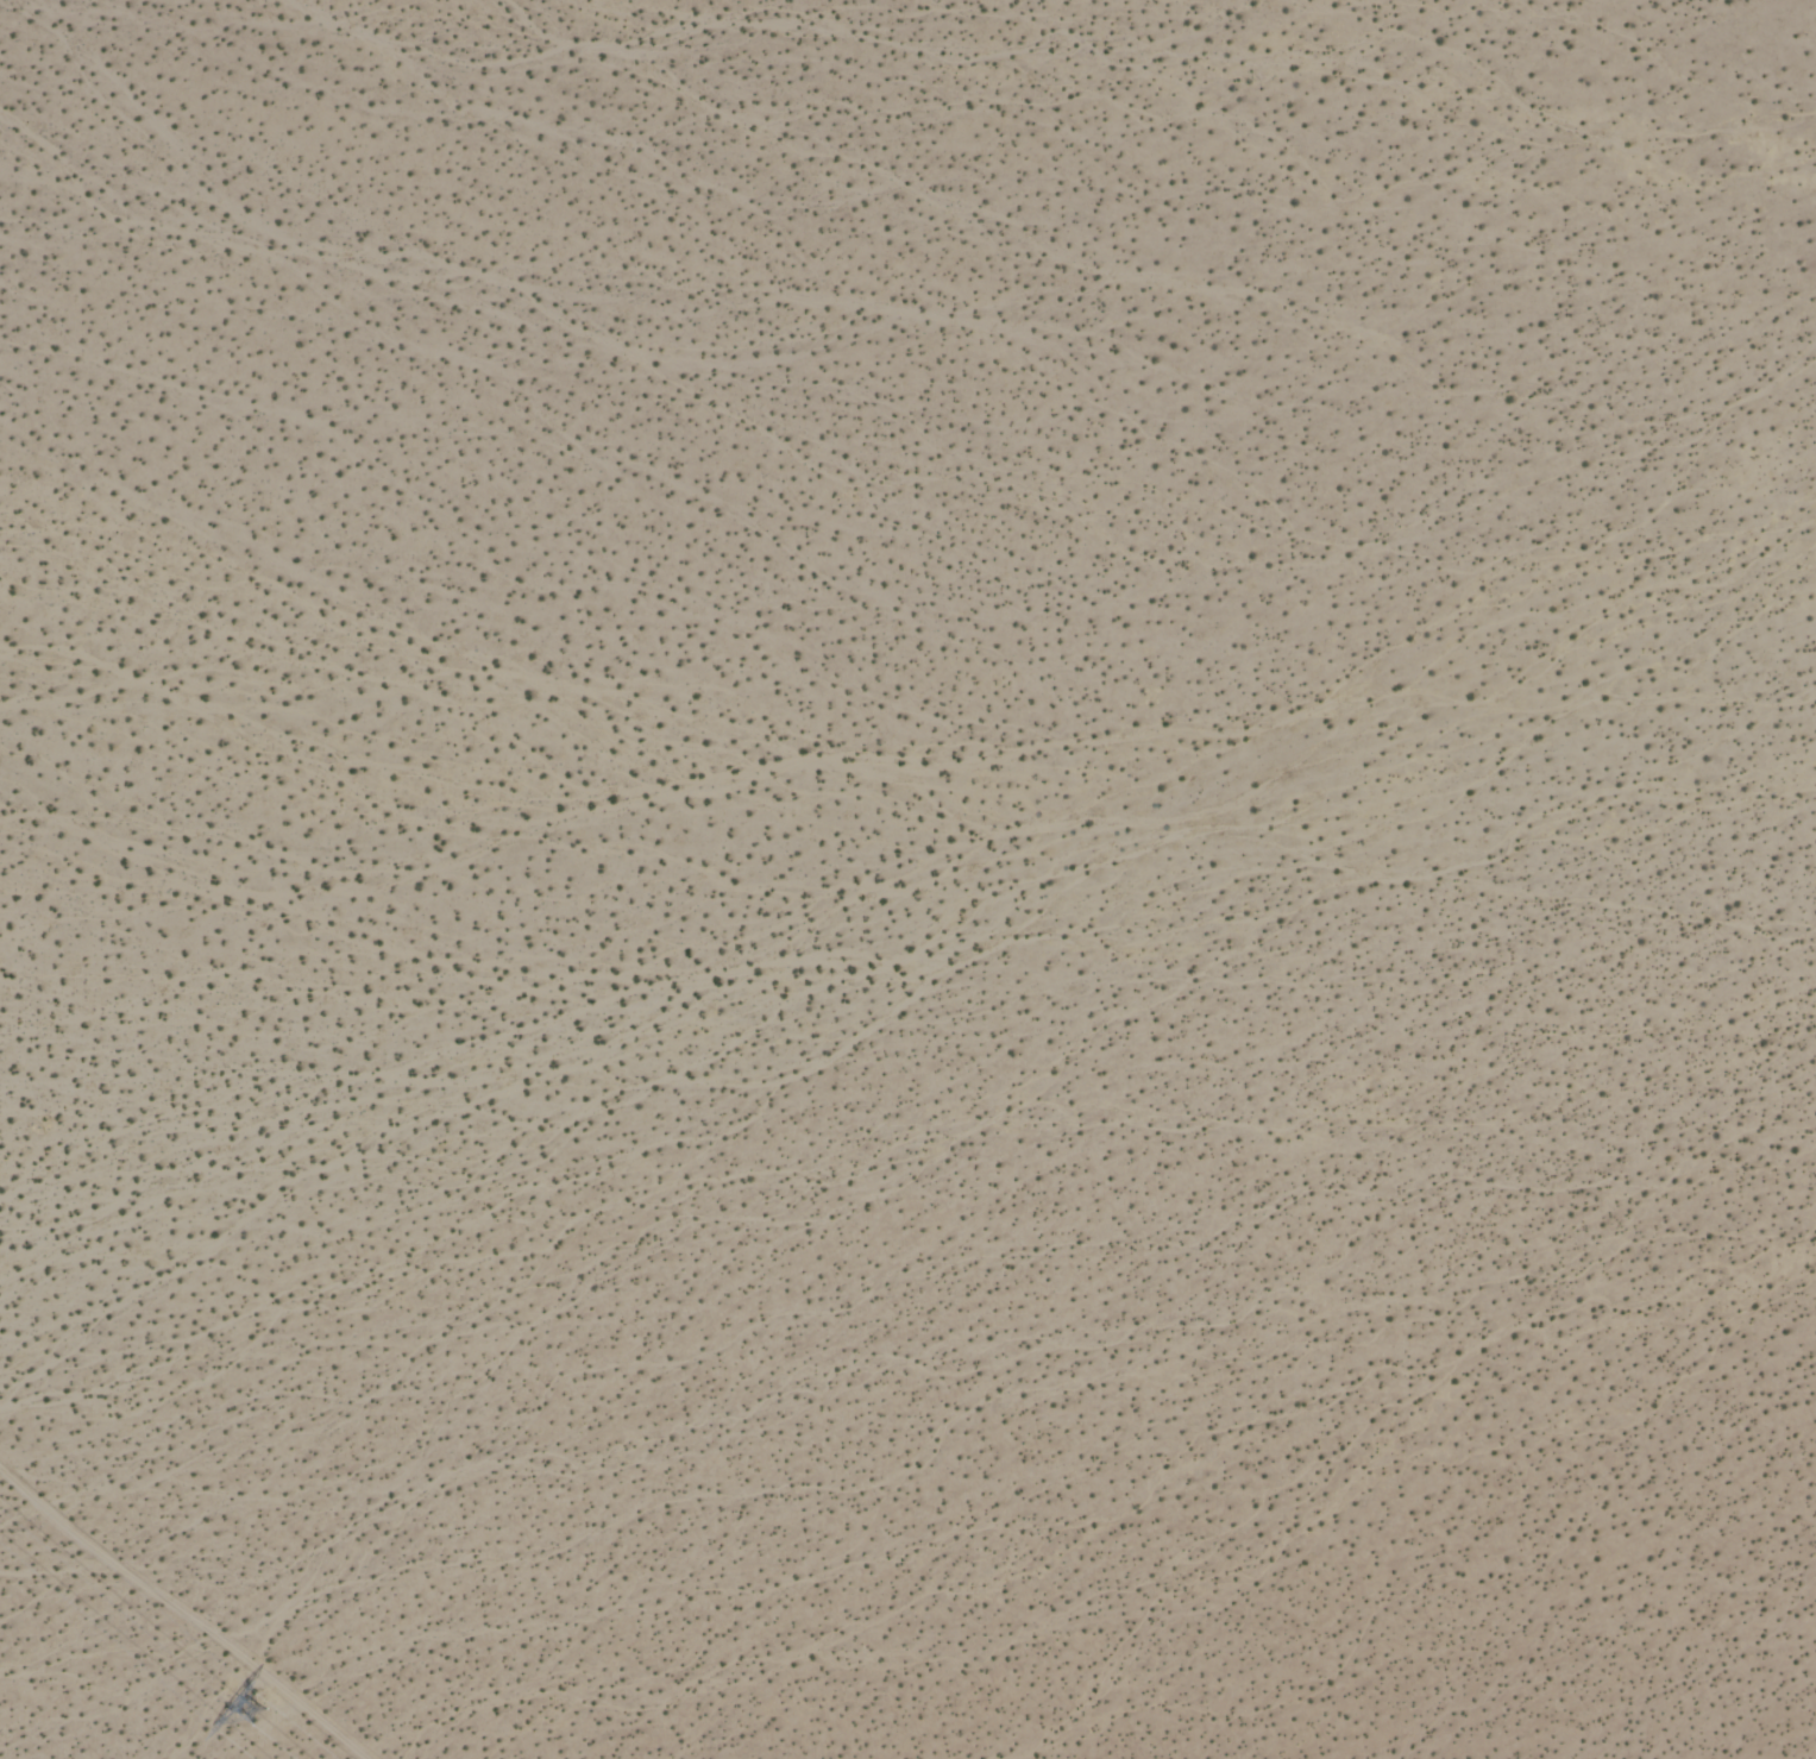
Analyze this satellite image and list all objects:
power tower: (258, 1711)

